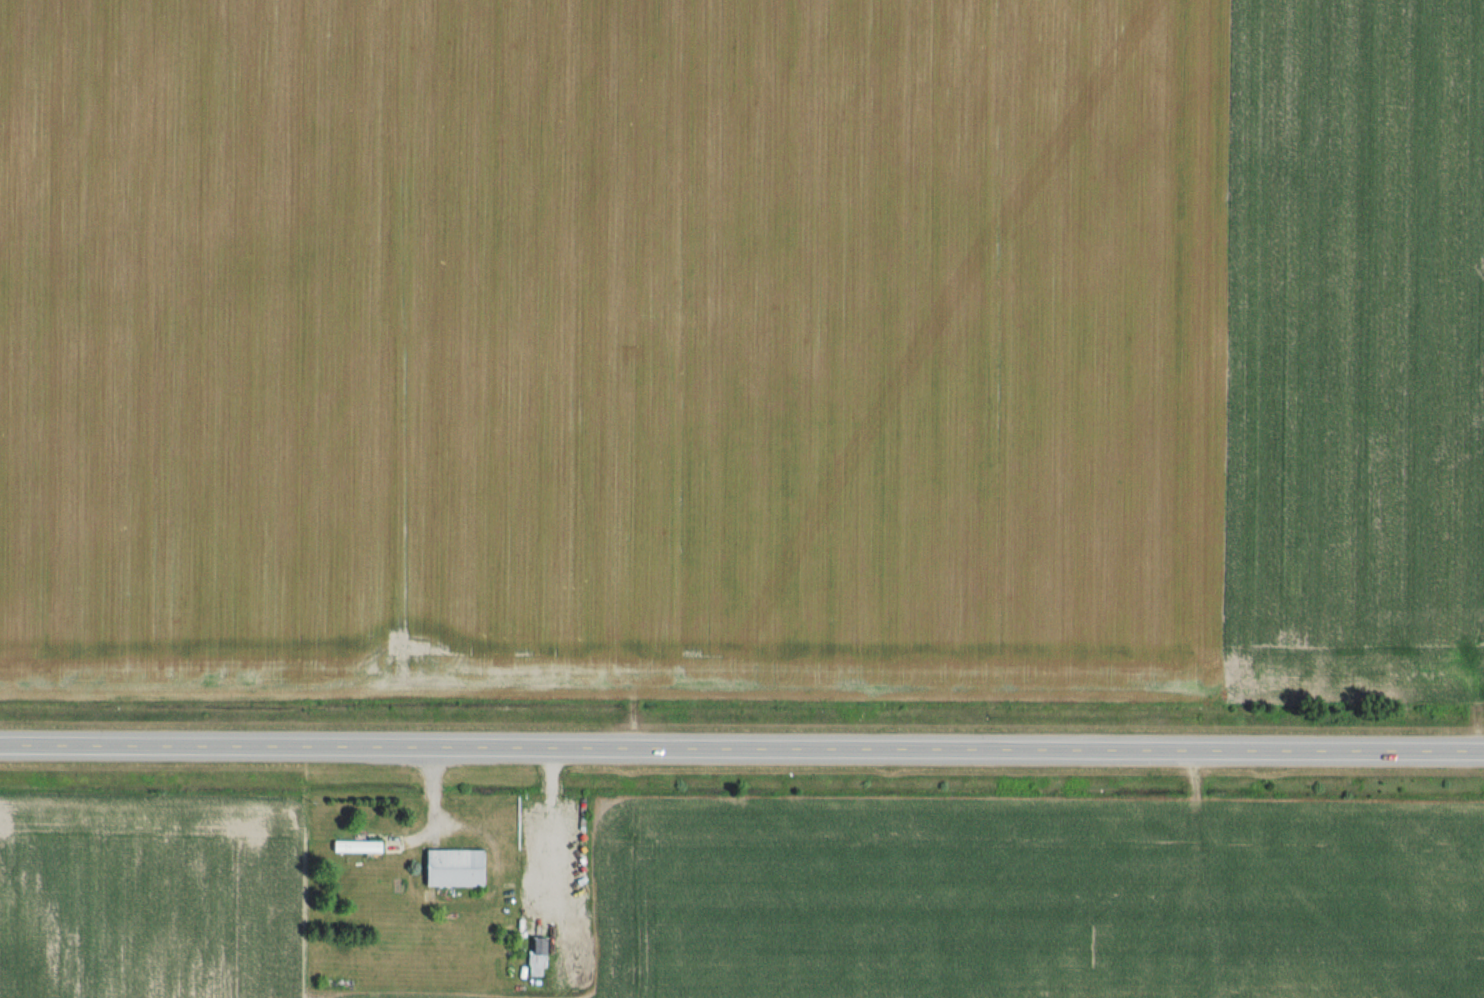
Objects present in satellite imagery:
road: (742, 749)
building: (452, 868)
building: (536, 946)

